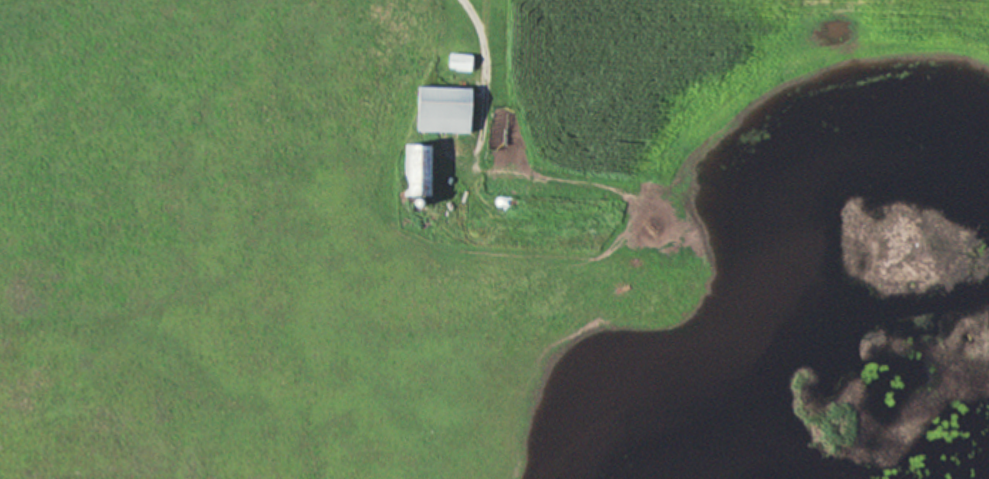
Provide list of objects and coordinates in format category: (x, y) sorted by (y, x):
building: (458, 61)
building: (442, 109)
building: (415, 169)

